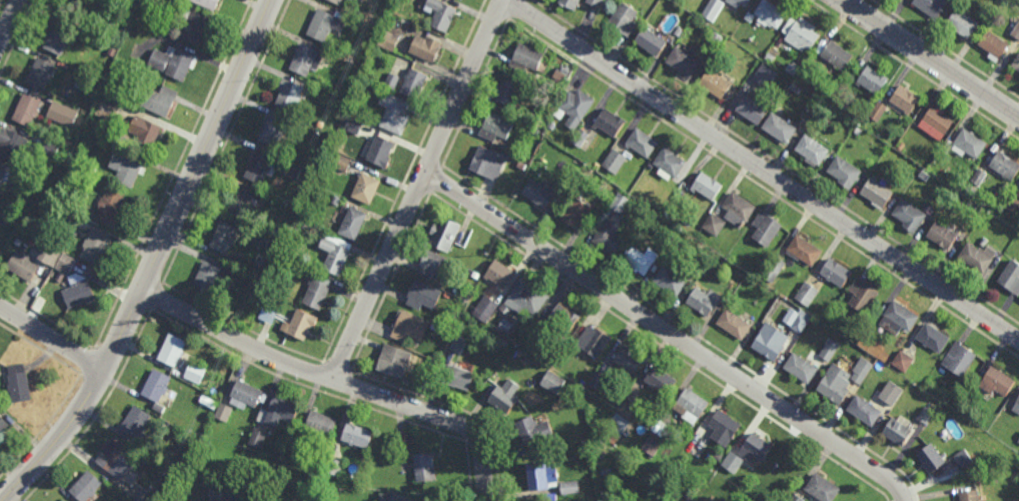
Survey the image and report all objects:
building: (355, 0)
building: (461, 0)
building: (336, 1)
building: (165, 2)
building: (572, 2)
building: (596, 2)
building: (739, 2)
building: (207, 3)
building: (173, 5)
building: (931, 6)
building: (70, 8)
building: (713, 8)
building: (771, 12)
building: (442, 14)
building: (750, 16)
building: (625, 17)
building: (962, 22)
road: (10, 23)
building: (323, 24)
building: (1014, 27)
building: (194, 29)
building: (679, 30)
building: (800, 34)
building: (57, 39)
building: (388, 40)
building: (651, 40)
building: (330, 42)
building: (712, 42)
building: (994, 44)
building: (426, 47)
building: (838, 55)
building: (527, 57)
building: (770, 57)
road: (931, 57)
building: (305, 59)
building: (684, 60)
building: (1016, 62)
building: (171, 63)
building: (792, 68)
building: (40, 73)
building: (766, 75)
building: (559, 76)
building: (873, 79)
building: (391, 80)
building: (414, 82)
building: (716, 82)
building: (796, 87)
building: (509, 89)
building: (288, 94)
building: (904, 99)
building: (159, 101)
building: (87, 104)
building: (108, 105)
building: (577, 106)
building: (753, 108)
building: (26, 110)
building: (878, 110)
building: (394, 113)
building: (61, 114)
building: (537, 115)
building: (828, 117)
building: (609, 122)
building: (936, 122)
building: (353, 125)
building: (552, 125)
building: (496, 127)
building: (780, 127)
building: (273, 130)
building: (535, 132)
building: (144, 133)
building: (580, 137)
building: (642, 142)
building: (68, 143)
building: (968, 143)
building: (10, 145)
building: (901, 145)
building: (48, 149)
building: (813, 149)
building: (379, 151)
building: (614, 161)
building: (341, 162)
building: (670, 162)
building: (488, 163)
building: (522, 165)
building: (1005, 165)
building: (596, 166)
building: (257, 167)
building: (125, 169)
road: (762, 169)
building: (292, 170)
building: (91, 171)
building: (604, 172)
building: (846, 172)
building: (923, 175)
building: (1, 177)
building: (979, 177)
building: (602, 180)
building: (564, 185)
building: (706, 186)
building: (366, 188)
building: (973, 188)
road: (418, 189)
building: (877, 192)
building: (1018, 193)
building: (539, 194)
building: (335, 200)
building: (242, 202)
building: (620, 202)
building: (1011, 202)
building: (108, 206)
building: (738, 210)
building: (909, 214)
building: (577, 215)
building: (352, 223)
building: (27, 224)
building: (72, 225)
building: (714, 225)
building: (766, 228)
building: (317, 232)
building: (444, 233)
building: (942, 235)
building: (224, 237)
building: (609, 237)
building: (260, 238)
building: (18, 239)
building: (668, 244)
building: (93, 248)
building: (805, 251)
building: (49, 256)
building: (334, 256)
building: (978, 256)
building: (639, 258)
road: (154, 261)
building: (65, 264)
building: (434, 264)
building: (23, 266)
building: (774, 270)
building: (836, 272)
building: (500, 273)
building: (474, 275)
building: (212, 276)
building: (1011, 276)
building: (672, 281)
building: (316, 292)
building: (446, 294)
building: (807, 294)
building: (78, 295)
building: (422, 295)
building: (726, 295)
building: (862, 295)
building: (527, 299)
building: (704, 301)
building: (485, 308)
building: (268, 314)
building: (898, 318)
building: (561, 319)
building: (800, 322)
building: (301, 324)
building: (734, 324)
building: (409, 326)
building: (433, 326)
building: (507, 326)
road: (668, 332)
road: (51, 337)
building: (932, 338)
building: (593, 341)
building: (503, 342)
building: (770, 342)
building: (458, 344)
building: (172, 349)
building: (830, 350)
building: (541, 354)
building: (627, 359)
building: (394, 360)
building: (958, 360)
building: (902, 361)
building: (801, 368)
building: (861, 370)
building: (195, 372)
building: (458, 377)
road: (333, 379)
building: (660, 380)
building: (553, 382)
building: (598, 382)
building: (19, 383)
building: (992, 383)
building: (156, 385)
building: (836, 385)
building: (891, 393)
building: (244, 395)
building: (505, 396)
building: (690, 405)
building: (1016, 407)
building: (278, 411)
building: (864, 411)
building: (222, 412)
building: (925, 415)
building: (134, 422)
building: (320, 423)
building: (618, 424)
building: (3, 425)
building: (723, 428)
building: (534, 431)
building: (898, 433)
building: (356, 436)
building: (256, 439)
building: (650, 445)
building: (757, 446)
building: (717, 455)
building: (930, 459)
building: (963, 460)
building: (117, 462)
building: (732, 462)
building: (332, 467)
building: (425, 467)
building: (790, 468)
building: (542, 476)
building: (764, 483)
building: (86, 487)
building: (570, 487)
building: (821, 488)
road: (479, 491)
building: (235, 495)
road: (472, 496)
building: (689, 496)
building: (969, 496)
building: (146, 497)
building: (387, 497)
building: (796, 498)
building: (63, 500)

